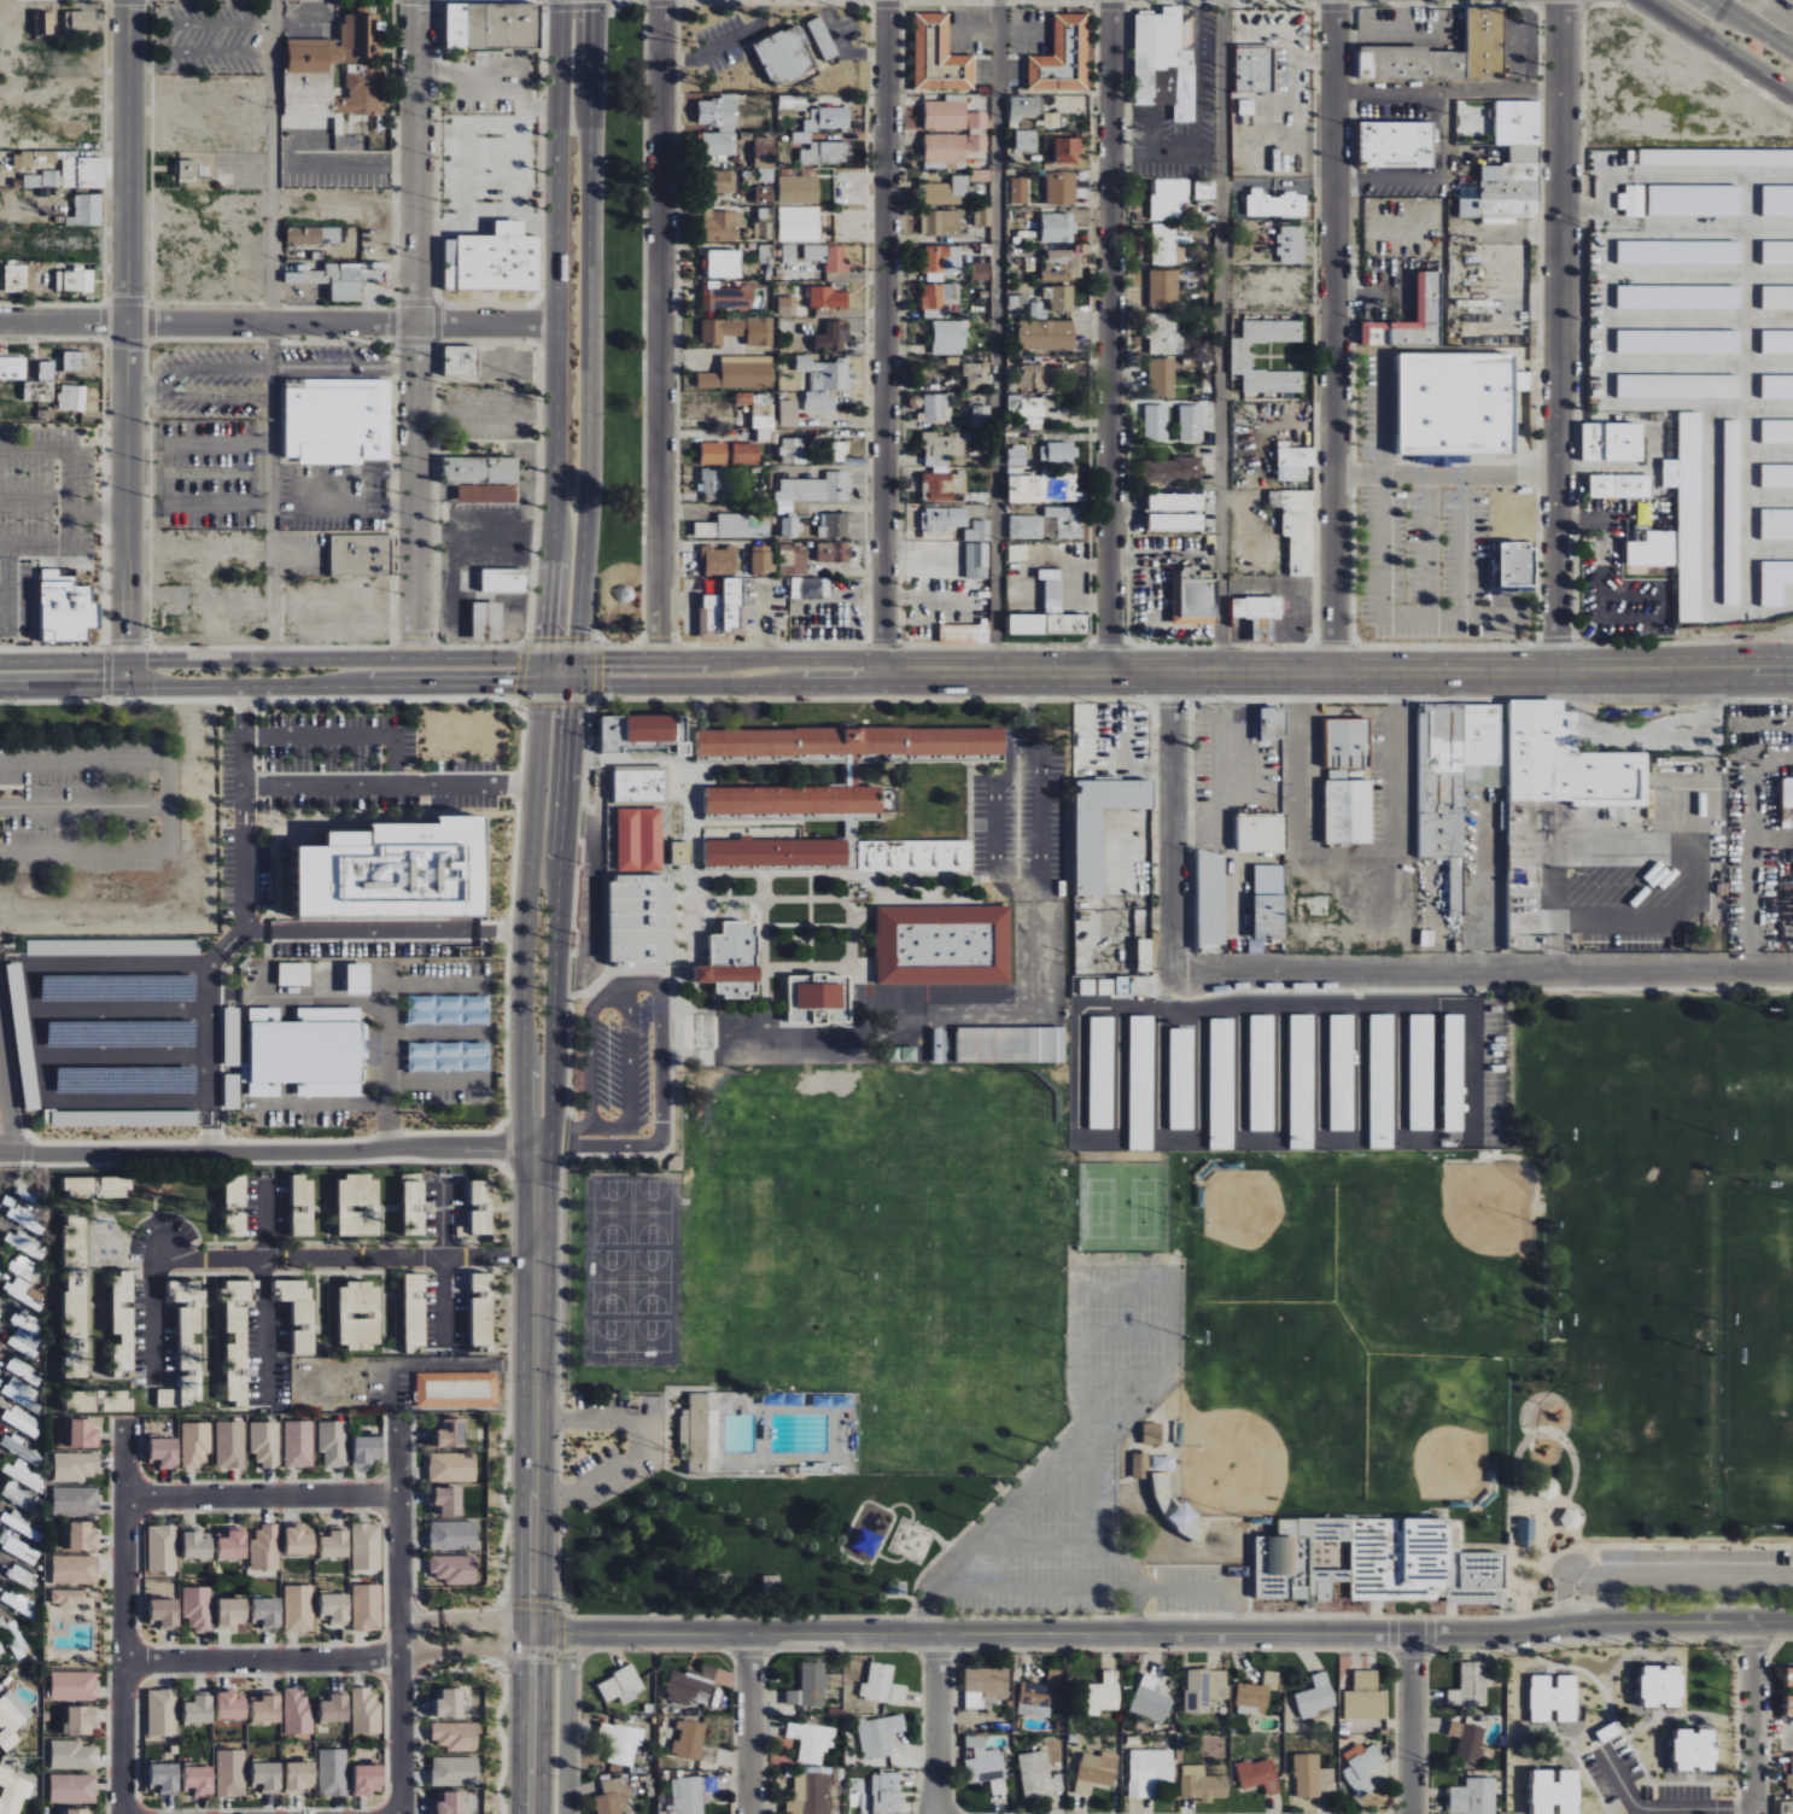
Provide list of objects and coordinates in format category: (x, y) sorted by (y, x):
road: (298, 21)
building: (82, 22)
building: (46, 23)
road: (200, 23)
road: (1724, 24)
building: (493, 25)
road: (1752, 25)
building: (823, 39)
road: (1515, 43)
building: (335, 45)
road: (1719, 46)
road: (200, 51)
building: (1443, 54)
building: (783, 56)
building: (940, 57)
building: (1063, 57)
building: (1164, 58)
building: (1255, 69)
road: (1783, 83)
building: (1166, 87)
road: (1449, 88)
building: (363, 93)
building: (309, 94)
building: (1027, 106)
building: (1245, 107)
building: (946, 115)
building: (1052, 119)
building: (824, 122)
building: (1518, 122)
building: (719, 124)
building: (977, 132)
building: (1026, 140)
building: (1397, 145)
building: (946, 151)
building: (1068, 151)
building: (825, 153)
building: (1525, 153)
building: (1716, 157)
building: (23, 159)
building: (765, 159)
road: (273, 161)
building: (188, 168)
building: (83, 173)
road: (1432, 177)
building: (42, 180)
building: (725, 181)
building: (1062, 188)
building: (799, 189)
building: (1201, 189)
building: (1020, 191)
building: (945, 192)
building: (764, 194)
building: (1505, 194)
building: (1168, 198)
building: (1633, 200)
building: (1695, 200)
building: (1777, 200)
building: (1277, 204)
building: (983, 217)
building: (941, 221)
building: (799, 223)
building: (722, 224)
building: (764, 224)
building: (1058, 227)
building: (313, 235)
building: (1291, 244)
building: (1163, 245)
building: (1680, 252)
building: (1777, 252)
building: (790, 253)
building: (828, 257)
building: (493, 259)
building: (941, 262)
building: (724, 264)
building: (1062, 266)
building: (981, 270)
building: (16, 279)
building: (75, 280)
building: (339, 280)
building: (1163, 288)
building: (1429, 296)
building: (1061, 297)
building: (1680, 297)
building: (828, 298)
building: (938, 298)
building: (1777, 298)
building: (788, 305)
road: (557, 319)
road: (279, 322)
road: (415, 329)
road: (588, 329)
road: (661, 329)
building: (737, 331)
building: (1166, 333)
building: (1046, 334)
road: (886, 336)
road: (998, 336)
road: (1112, 336)
road: (1221, 336)
building: (834, 337)
road: (1336, 337)
road: (1559, 337)
building: (948, 338)
building: (1680, 342)
building: (1777, 342)
road: (128, 344)
parking lot: (332, 355)
building: (1240, 356)
flagpole: (387, 360)
building: (74, 361)
building: (461, 361)
building: (804, 363)
building: (46, 367)
building: (12, 368)
road: (281, 369)
building: (741, 373)
road: (273, 374)
building: (833, 375)
building: (976, 375)
building: (1032, 377)
building: (1162, 378)
road: (175, 380)
parking lot: (209, 383)
building: (1678, 386)
building: (1777, 387)
road: (145, 392)
building: (72, 398)
road: (216, 398)
building: (819, 402)
building: (1459, 403)
building: (759, 408)
building: (934, 408)
building: (789, 412)
building: (981, 415)
building: (335, 416)
building: (1156, 422)
building: (1191, 424)
building: (1777, 432)
road: (199, 442)
building: (1612, 442)
building: (942, 448)
road: (63, 450)
building: (793, 451)
building: (839, 451)
building: (1059, 451)
building: (714, 454)
building: (746, 454)
building: (328, 456)
building: (1295, 462)
building: (481, 469)
building: (1172, 469)
road: (1447, 473)
building: (1777, 476)
building: (711, 480)
building: (942, 485)
building: (1620, 485)
building: (1041, 486)
building: (816, 489)
building: (487, 494)
building: (1175, 502)
road: (199, 508)
road: (99, 511)
building: (1733, 513)
building: (1688, 514)
building: (944, 519)
building: (1067, 521)
building: (1175, 523)
building: (1777, 524)
building: (837, 525)
building: (735, 526)
building: (790, 526)
building: (1026, 527)
building: (1297, 527)
building: (979, 531)
road: (271, 543)
road: (49, 544)
road: (1425, 544)
road: (1465, 544)
road: (1382, 547)
building: (1654, 549)
building: (833, 553)
building: (1017, 553)
building: (361, 555)
road: (1151, 558)
building: (719, 560)
building: (761, 560)
building: (793, 560)
building: (977, 560)
building: (1518, 564)
building: (504, 581)
building: (1776, 582)
building: (811, 588)
building: (1192, 597)
building: (65, 608)
building: (722, 611)
building: (1050, 612)
building: (1260, 616)
building: (487, 622)
road: (764, 622)
road: (1155, 622)
building: (964, 634)
traffic signals: (547, 638)
road: (545, 649)
road: (271, 660)
traffic signals: (545, 660)
road: (560, 660)
road: (731, 660)
traffic signals: (576, 661)
road: (1028, 672)
road: (1680, 672)
road: (544, 673)
road: (574, 673)
road: (1369, 673)
road: (744, 686)
traffic signals: (543, 687)
road: (572, 687)
traffic signals: (574, 687)
road: (270, 688)
road: (1028, 716)
building: (1273, 723)
gas station: (1686, 727)
building: (636, 731)
road: (1648, 731)
road: (344, 735)
building: (851, 742)
building: (1454, 778)
building: (1348, 783)
road: (391, 786)
building: (639, 786)
building: (1787, 792)
building: (1560, 799)
building: (793, 800)
road: (83, 805)
road: (167, 805)
road: (1226, 806)
building: (1102, 826)
building: (1262, 833)
building: (639, 840)
road: (1753, 851)
building: (682, 853)
building: (776, 853)
building: (915, 856)
road: (1349, 862)
building: (396, 873)
building: (1269, 880)
road: (1029, 887)
road: (589, 897)
building: (1211, 899)
road: (527, 909)
road: (557, 909)
building: (1269, 917)
building: (641, 918)
road: (246, 925)
road: (257, 929)
road: (370, 929)
road: (501, 929)
building: (944, 945)
building: (1145, 956)
building: (732, 962)
road: (1332, 972)
building: (294, 975)
building: (358, 980)
building: (1123, 985)
building: (1147, 985)
building: (1087, 987)
building: (1105, 987)
building: (822, 996)
road: (122, 1010)
building: (449, 1010)
road: (35, 1025)
building: (230, 1034)
building: (23, 1040)
building: (1011, 1045)
building: (308, 1052)
building: (901, 1055)
road: (125, 1057)
building: (448, 1057)
road: (385, 1065)
building: (1420, 1072)
building: (1100, 1073)
building: (1261, 1073)
building: (1341, 1073)
building: (1453, 1073)
building: (1180, 1079)
building: (1301, 1081)
building: (1380, 1081)
building: (1140, 1083)
building: (1221, 1084)
road: (660, 1086)
road: (7, 1089)
building: (232, 1091)
park: (1758, 1092)
building: (31, 1104)
building: (124, 1119)
road: (563, 1127)
road: (624, 1127)
road: (267, 1145)
building: (97, 1186)
building: (414, 1205)
building: (358, 1206)
building: (235, 1207)
building: (303, 1207)
park: (1121, 1207)
building: (481, 1208)
park: (1635, 1232)
building: (22, 1243)
road: (536, 1246)
road: (443, 1258)
park: (1758, 1258)
road: (345, 1259)
park: (630, 1270)
building: (30, 1272)
road: (1123, 1284)
building: (21, 1291)
road: (265, 1291)
building: (75, 1295)
road: (153, 1307)
building: (481, 1308)
building: (298, 1310)
building: (360, 1314)
building: (188, 1319)
building: (122, 1320)
park: (1353, 1326)
road: (1122, 1329)
building: (236, 1338)
building: (24, 1342)
road: (436, 1364)
road: (1117, 1372)
building: (456, 1389)
building: (181, 1392)
road: (537, 1392)
building: (23, 1396)
park: (1160, 1405)
park: (1758, 1415)
building: (22, 1421)
building: (696, 1431)
building: (83, 1433)
building: (451, 1433)
building: (1152, 1433)
building: (333, 1442)
building: (194, 1443)
building: (264, 1443)
building: (298, 1443)
building: (230, 1445)
road: (644, 1446)
building: (18, 1448)
building: (367, 1448)
building: (164, 1452)
road: (1056, 1452)
parking lot: (641, 1453)
road: (397, 1462)
building: (1163, 1463)
parking lot: (1088, 1464)
building: (1140, 1465)
building: (75, 1466)
building: (452, 1466)
road: (1091, 1468)
building: (21, 1498)
road: (158, 1498)
road: (292, 1498)
building: (449, 1500)
road: (1050, 1500)
building: (75, 1501)
building: (1169, 1503)
building: (1182, 1516)
building: (1526, 1532)
building: (82, 1535)
building: (452, 1535)
building: (298, 1540)
building: (334, 1544)
road: (1036, 1544)
building: (197, 1545)
building: (233, 1545)
building: (367, 1546)
building: (162, 1547)
building: (265, 1547)
building: (18, 1548)
building: (1353, 1558)
building: (454, 1568)
building: (75, 1569)
road: (1654, 1573)
parking lot: (1695, 1573)
building: (1484, 1574)
building: (21, 1576)
building: (685, 1576)
road: (1084, 1588)
building: (69, 1598)
building: (18, 1602)
building: (367, 1606)
building: (198, 1608)
building: (299, 1608)
building: (334, 1608)
building: (165, 1611)
building: (232, 1612)
building: (267, 1612)
road: (533, 1617)
road: (127, 1618)
road: (487, 1621)
road: (421, 1622)
road: (1163, 1632)
building: (12, 1637)
road: (459, 1638)
building: (1, 1650)
road: (489, 1651)
road: (422, 1653)
road: (399, 1656)
road: (309, 1660)
road: (173, 1662)
building: (621, 1685)
building: (690, 1685)
building: (882, 1685)
building: (985, 1685)
building: (1661, 1685)
building: (74, 1686)
building: (810, 1686)
building: (1470, 1686)
building: (1205, 1690)
building: (1040, 1695)
building: (1102, 1695)
building: (1256, 1695)
building: (1316, 1696)
building: (1366, 1697)
building: (1554, 1698)
building: (1150, 1701)
building: (450, 1703)
building: (230, 1705)
building: (1789, 1705)
building: (334, 1707)
building: (198, 1709)
building: (267, 1709)
building: (297, 1711)
building: (366, 1711)
building: (162, 1713)
road: (1752, 1717)
building: (11, 1719)
building: (81, 1720)
road: (1412, 1722)
road: (749, 1723)
road: (938, 1723)
road: (1772, 1727)
building: (456, 1736)
building: (880, 1736)
building: (811, 1740)
building: (1467, 1740)
building: (621, 1742)
building: (1695, 1749)
building: (72, 1755)
building: (985, 1763)
building: (1361, 1767)
building: (455, 1771)
building: (1149, 1771)
building: (333, 1772)
building: (230, 1773)
building: (1039, 1774)
building: (267, 1775)
building: (299, 1775)
building: (1258, 1775)
building: (164, 1777)
building: (1312, 1777)
building: (367, 1779)
building: (198, 1780)
building: (1791, 1780)
building: (1202, 1784)
building: (72, 1789)
building: (12, 1791)
building: (1555, 1791)
building: (810, 1793)
building: (887, 1793)
building: (687, 1795)
building: (614, 1797)
building: (1473, 1797)
building: (450, 1802)
road: (1661, 1808)
building: (77, 1810)

